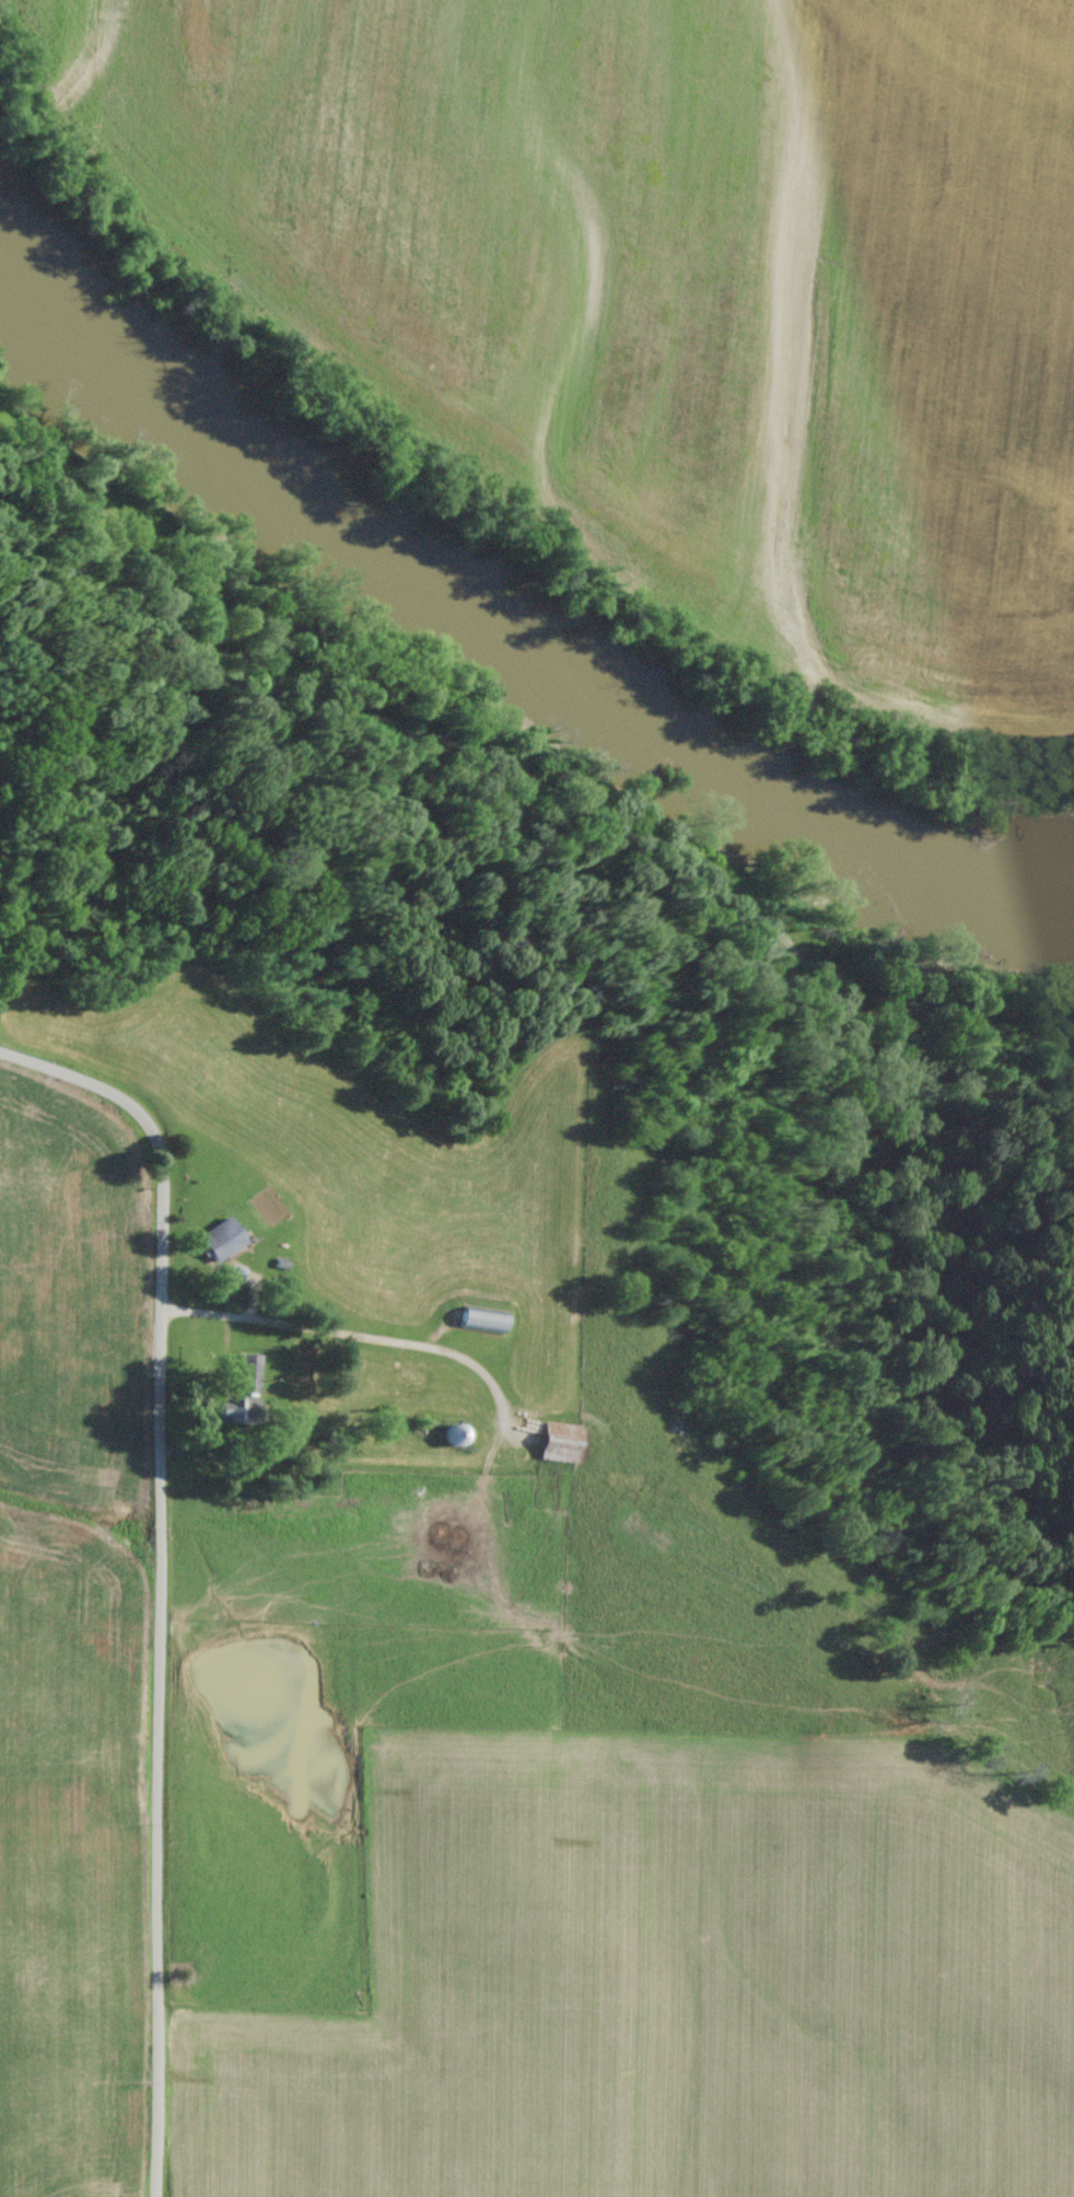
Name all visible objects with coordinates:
river: (520, 630)
road: (447, 748)
building: (213, 1239)
building: (229, 1271)
building: (476, 1317)
building: (245, 1371)
building: (400, 1375)
building: (226, 1408)
building: (447, 1431)
building: (557, 1440)
road: (184, 1569)

